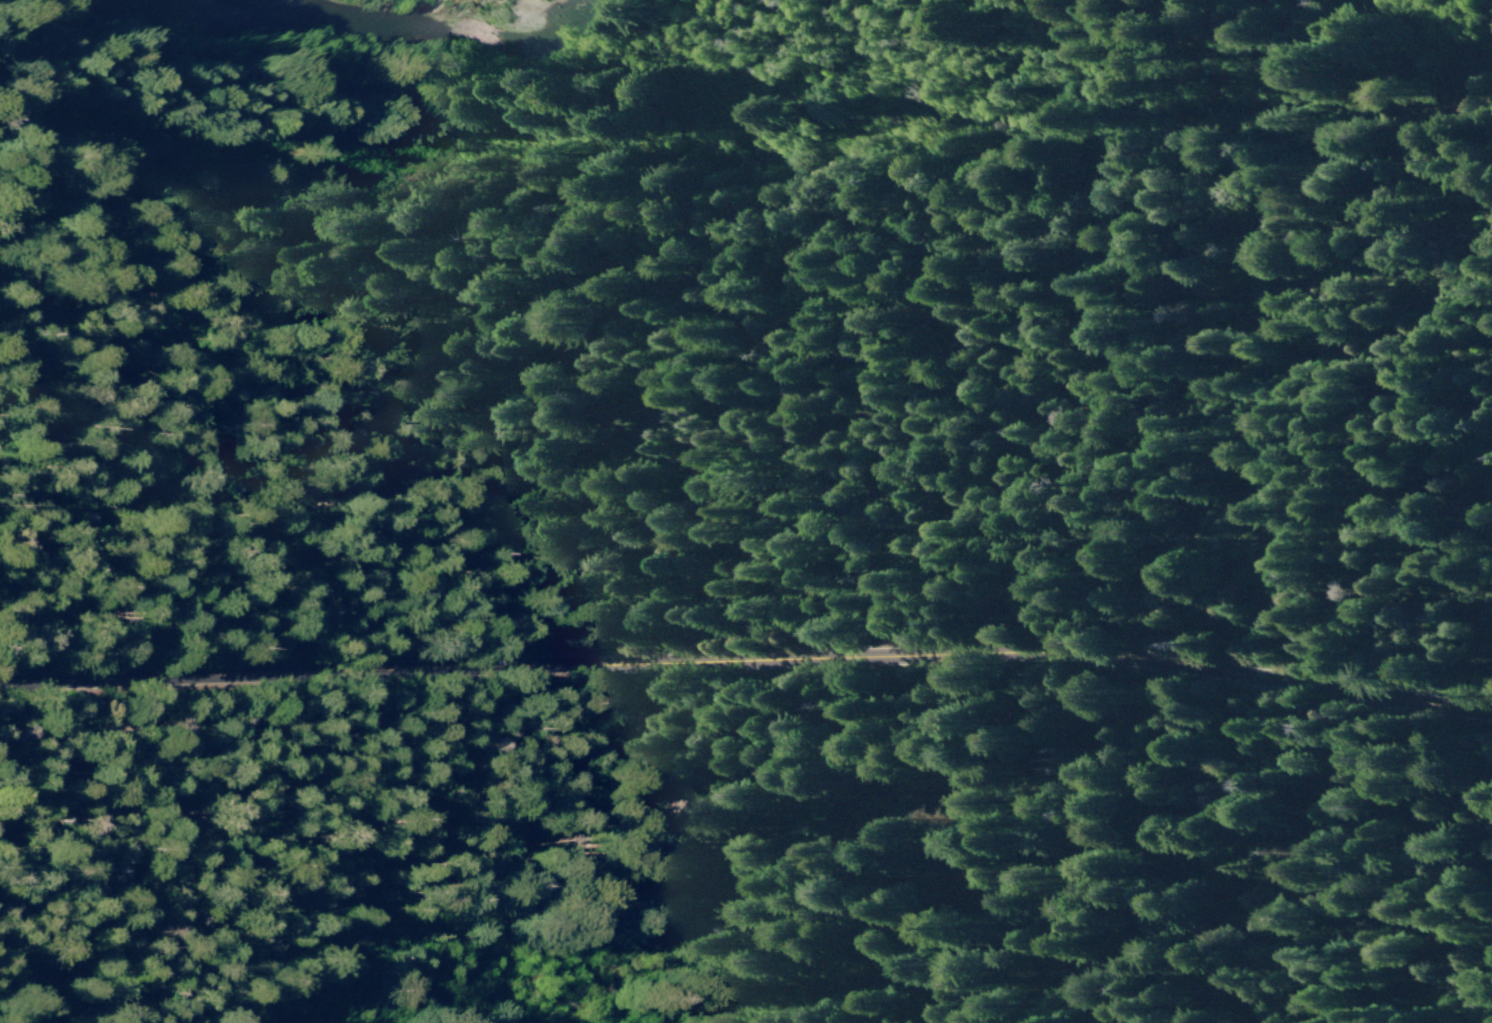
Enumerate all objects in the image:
road: (748, 659)
road: (1452, 994)

